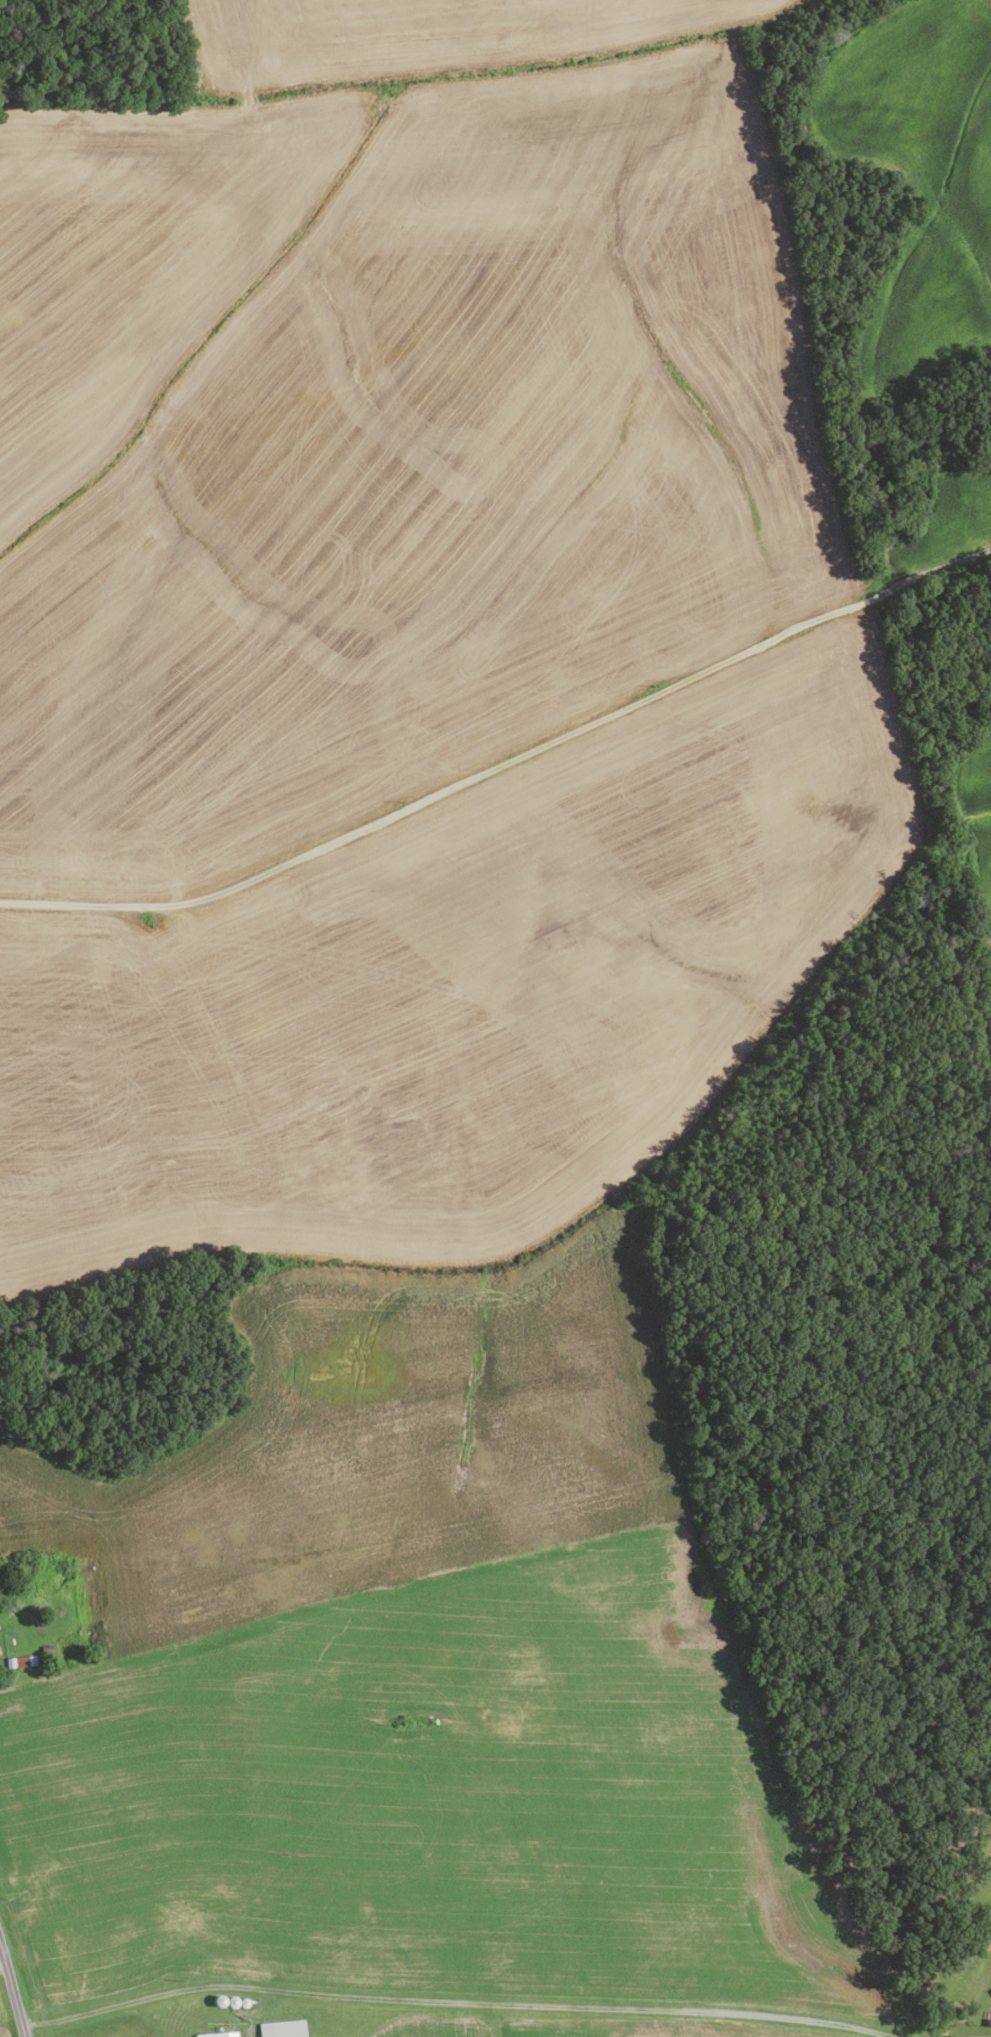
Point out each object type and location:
road: (503, 764)
building: (24, 1591)
building: (46, 1649)
building: (24, 1662)
road: (3, 1968)
road: (12, 1990)
road: (456, 1999)
building: (217, 2000)
silo: (217, 2000)
building: (230, 2001)
silo: (230, 2001)
building: (243, 2002)
silo: (243, 2002)
building: (988, 2021)
building: (282, 2028)
building: (218, 2034)

